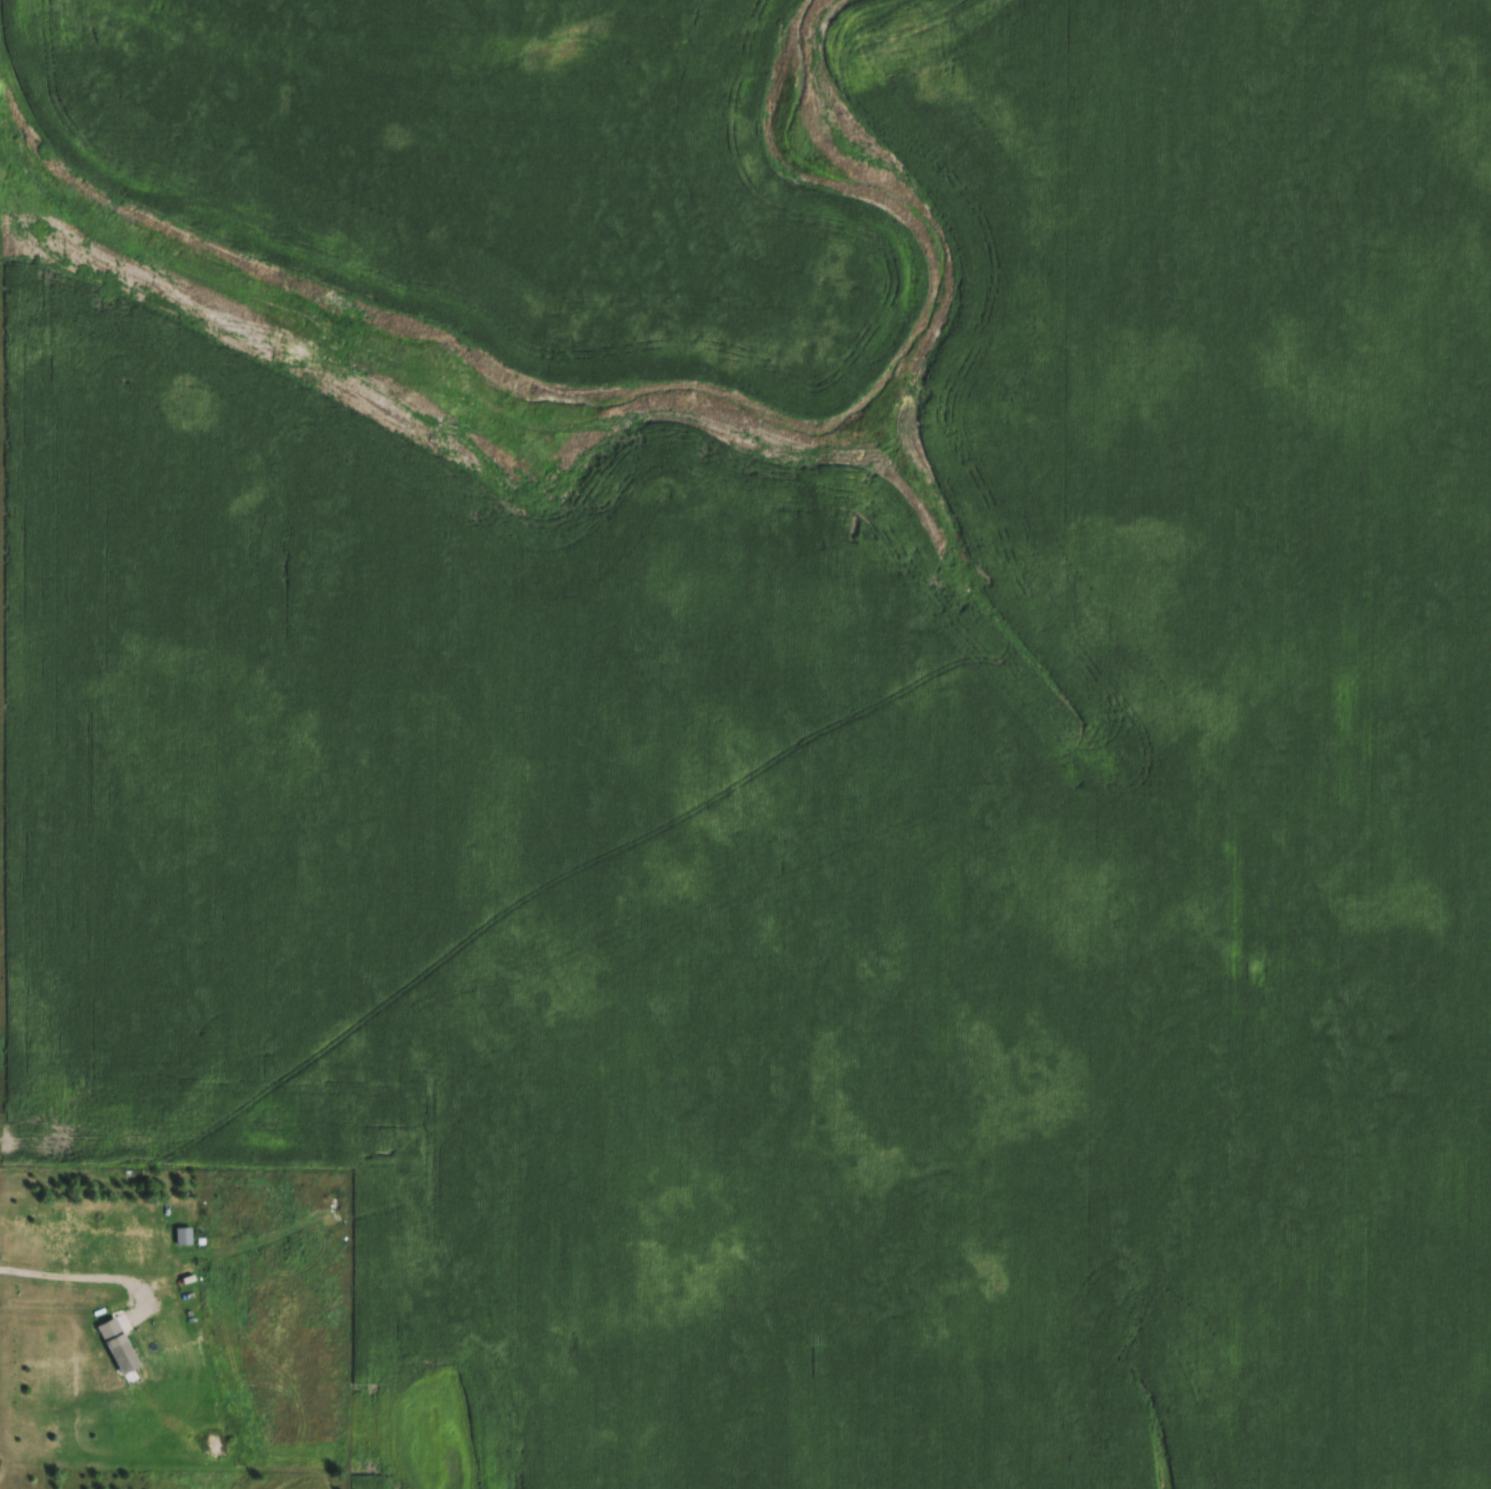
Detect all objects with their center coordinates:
road: (82, 1278)
building: (118, 1346)

